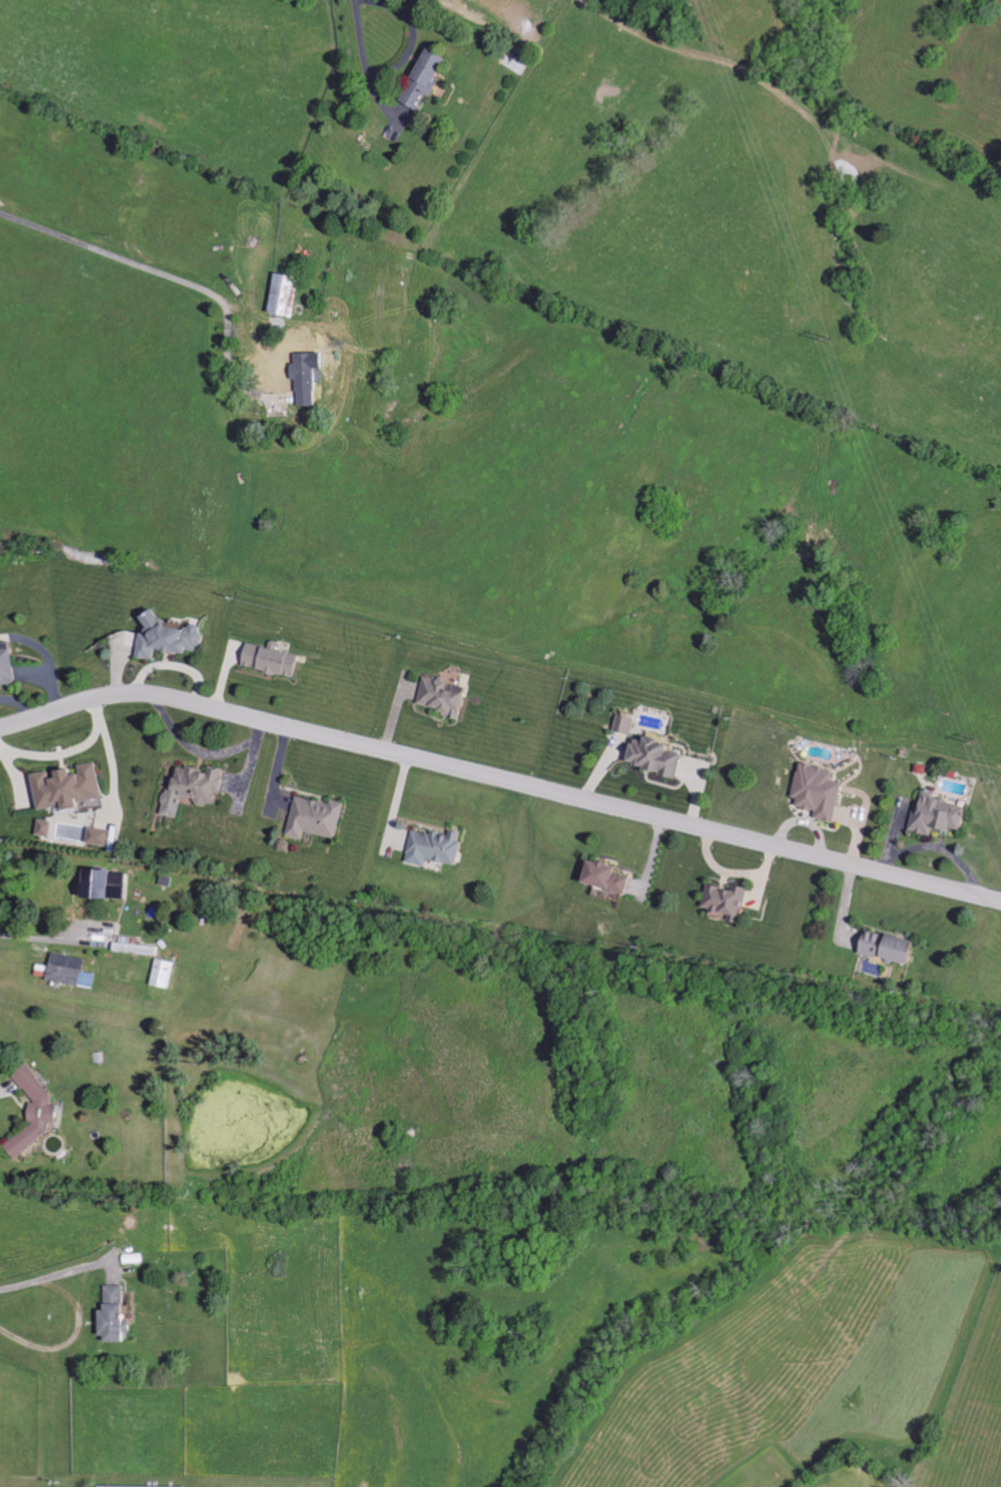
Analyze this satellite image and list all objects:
building: (431, 78)
road: (172, 279)
building: (290, 294)
power tower: (830, 336)
building: (309, 378)
building: (173, 637)
building: (276, 660)
building: (10, 664)
building: (448, 696)
building: (629, 724)
power tower: (975, 740)
road: (67, 752)
building: (660, 756)
road: (501, 779)
building: (73, 787)
building: (194, 788)
building: (824, 791)
building: (942, 815)
building: (320, 818)
building: (103, 835)
building: (440, 847)
building: (613, 877)
building: (112, 884)
building: (731, 899)
road: (35, 936)
building: (138, 946)
building: (897, 948)
building: (167, 973)
building: (51, 1109)
building: (120, 1312)
road: (79, 1316)
building: (149, 1486)

